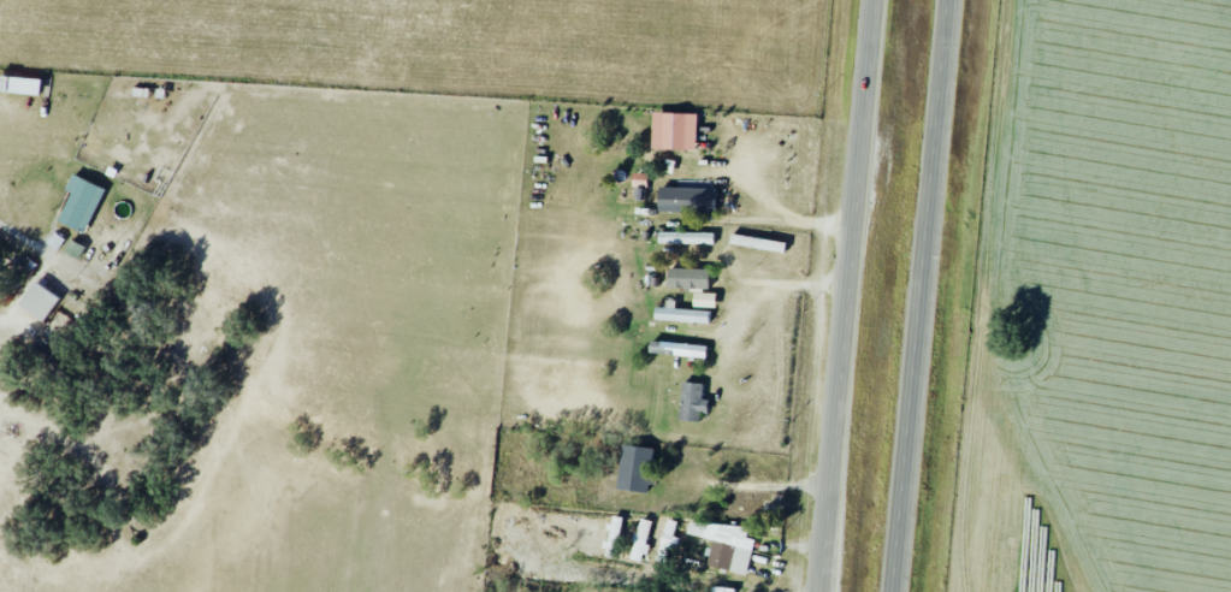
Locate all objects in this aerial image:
building: (20, 85)
building: (675, 131)
building: (640, 178)
building: (687, 200)
building: (81, 203)
road: (787, 208)
building: (686, 237)
road: (24, 238)
building: (57, 241)
building: (76, 249)
building: (690, 278)
road: (762, 286)
road: (850, 296)
road: (922, 296)
building: (705, 300)
building: (40, 301)
building: (682, 314)
road: (7, 316)
building: (677, 349)
building: (693, 402)
building: (635, 468)
road: (751, 485)
building: (615, 535)
building: (643, 539)
building: (727, 545)

